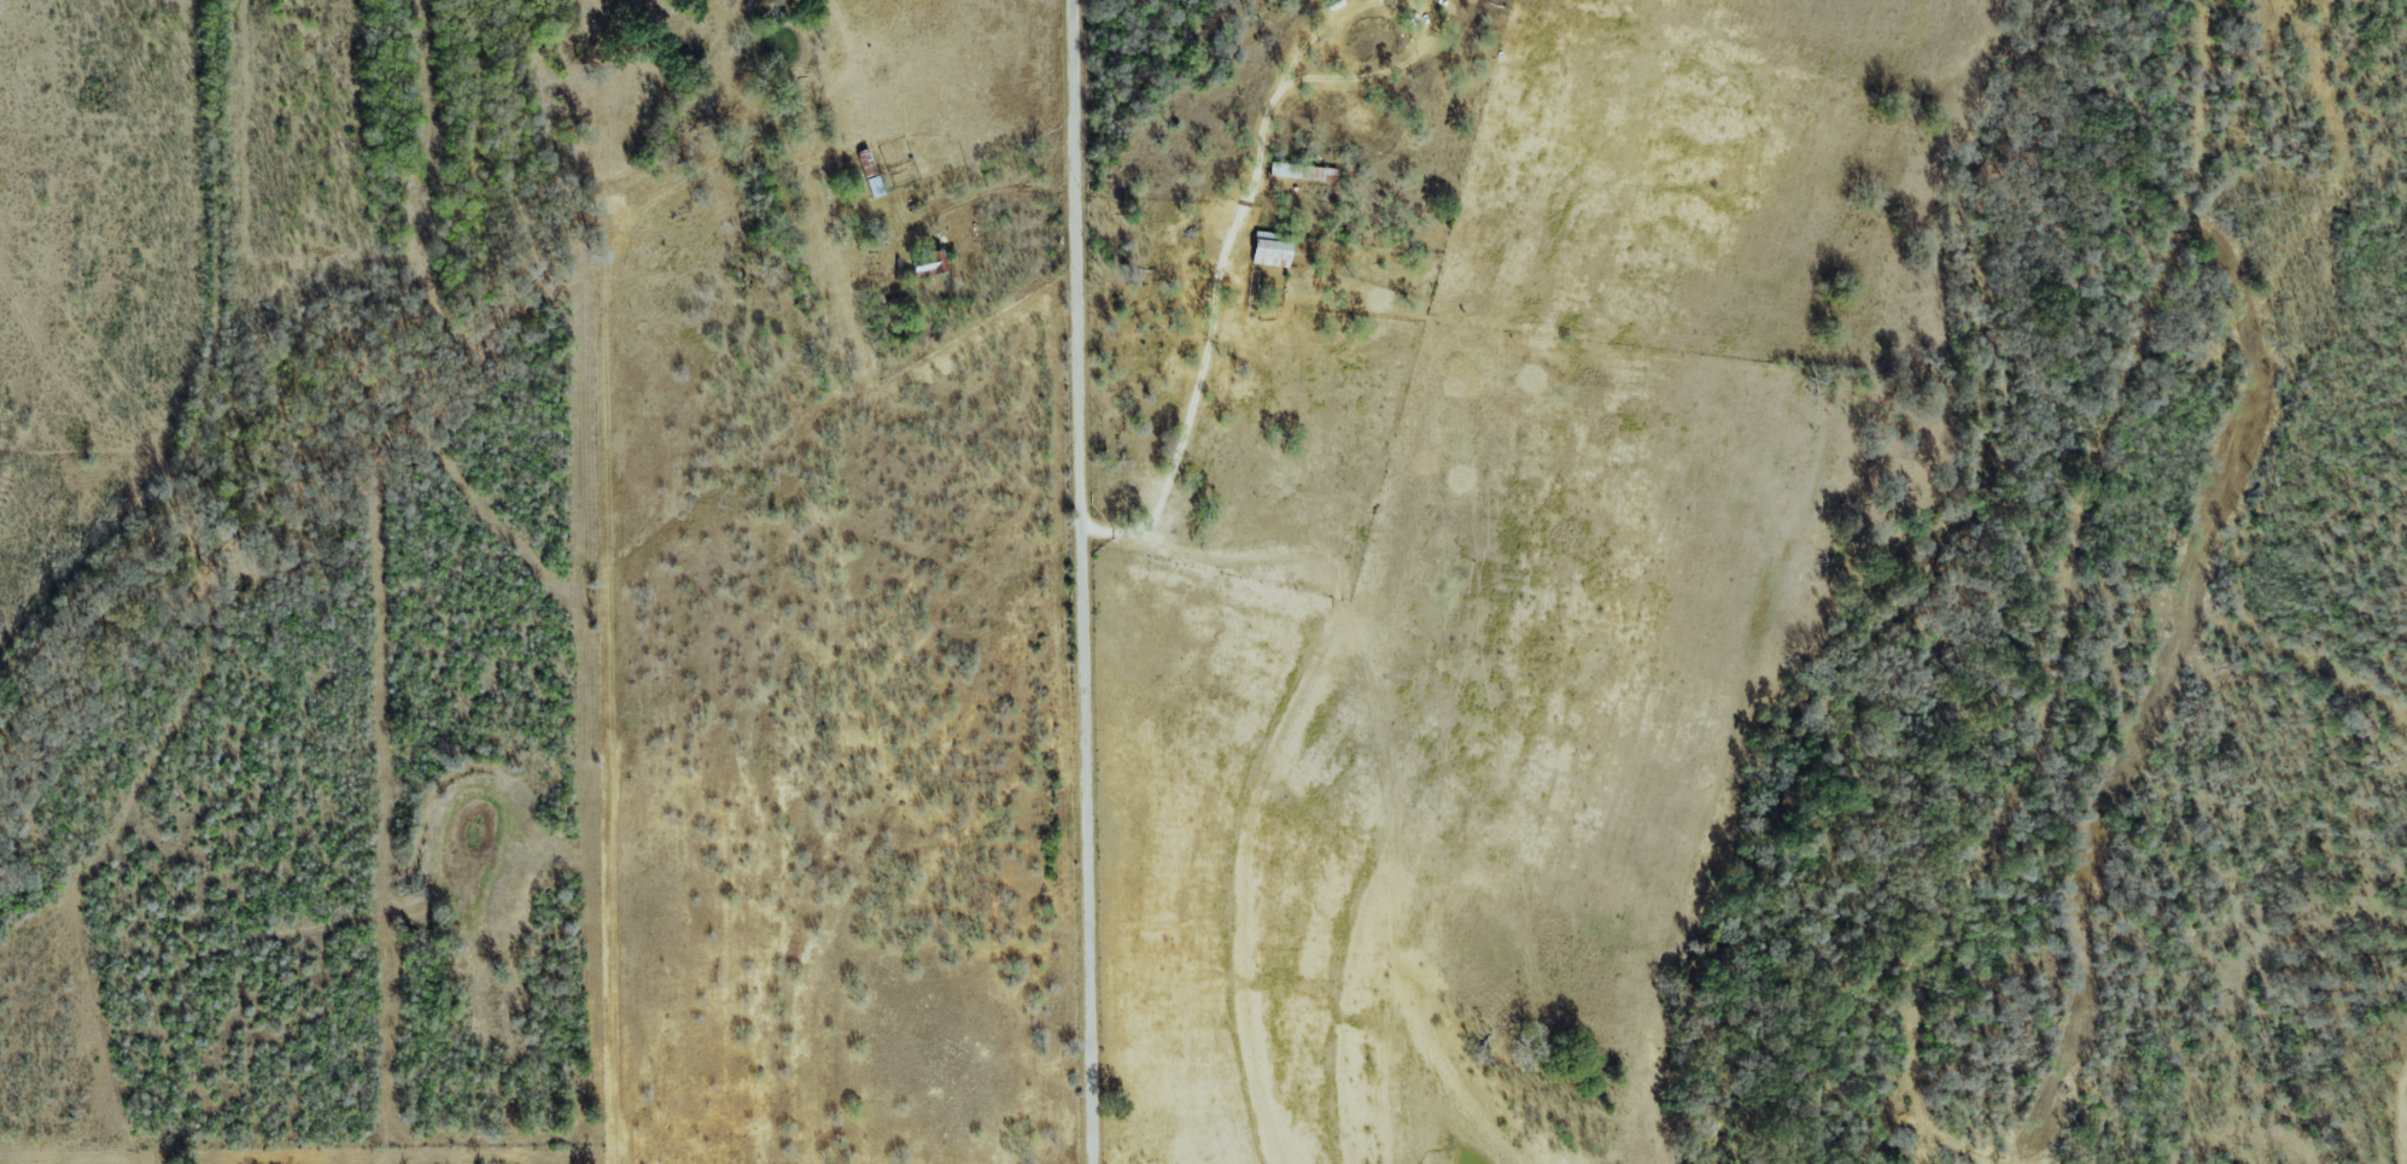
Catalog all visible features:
road: (1313, 31)
road: (1380, 69)
building: (1303, 172)
building: (870, 174)
building: (1270, 251)
building: (929, 263)
road: (1207, 331)
road: (1082, 581)
road: (1377, 682)

